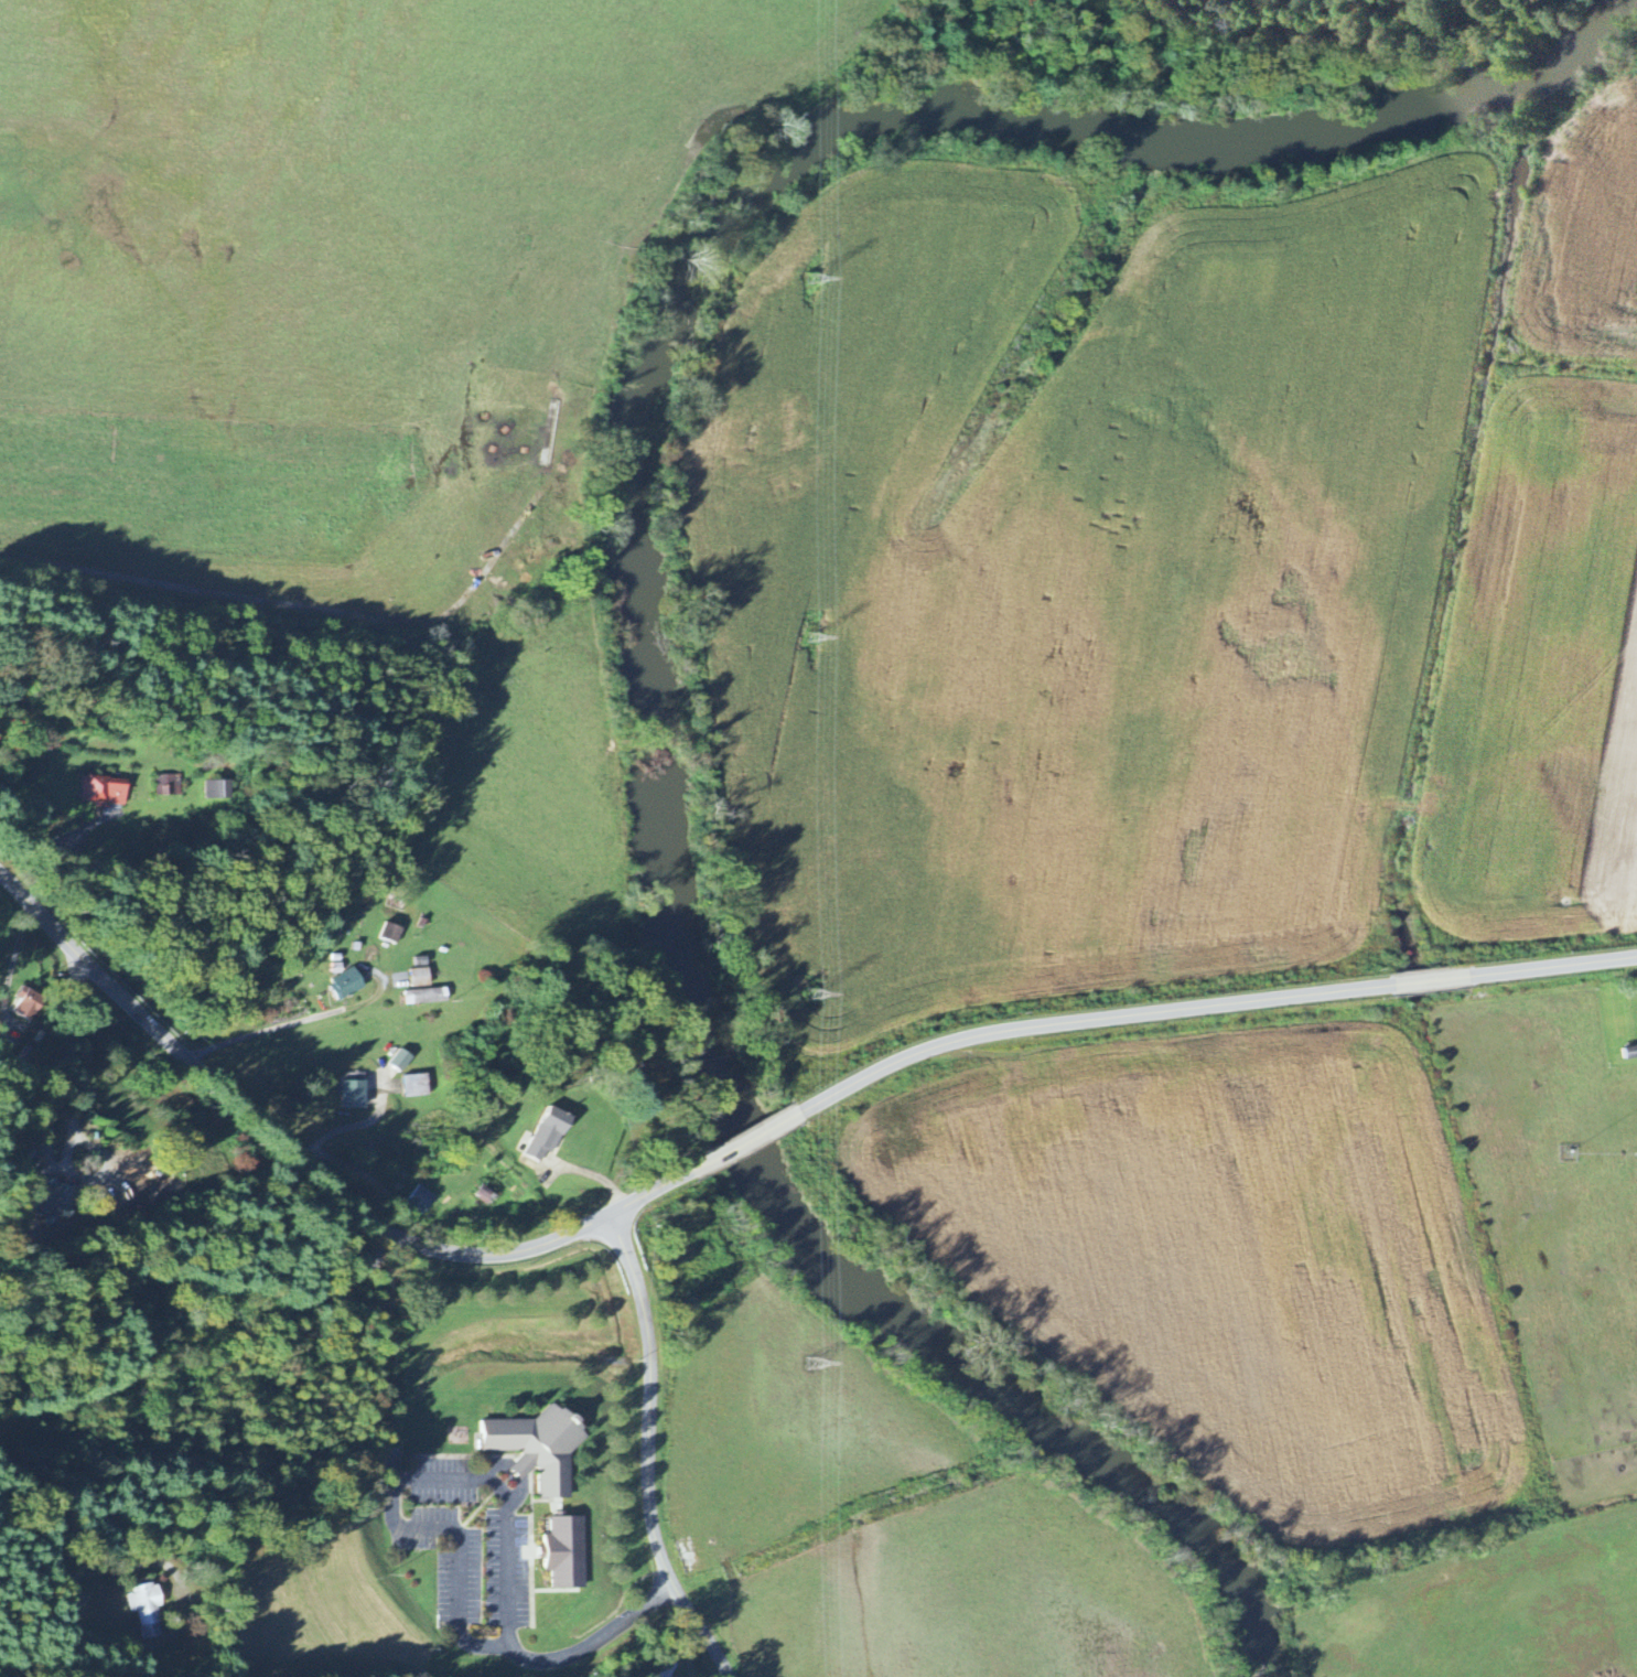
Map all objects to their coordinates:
power tower: (807, 277)
river: (640, 400)
power tower: (808, 638)
building: (213, 791)
building: (99, 792)
road: (53, 837)
building: (388, 935)
road: (12, 968)
road: (1552, 969)
building: (416, 979)
road: (1429, 980)
building: (342, 986)
building: (421, 998)
power tower: (803, 998)
road: (309, 1020)
road: (1086, 1022)
building: (396, 1063)
building: (412, 1087)
building: (348, 1096)
road: (73, 1111)
building: (543, 1136)
road: (743, 1142)
road: (309, 1168)
road: (591, 1174)
building: (417, 1202)
road: (154, 1288)
power tower: (809, 1359)
building: (532, 1450)
road: (647, 1453)
road: (398, 1476)
river: (1162, 1515)
road: (47, 1551)
building: (560, 1554)
building: (143, 1610)
road: (595, 1638)
river: (1270, 1651)
building: (661, 1668)

